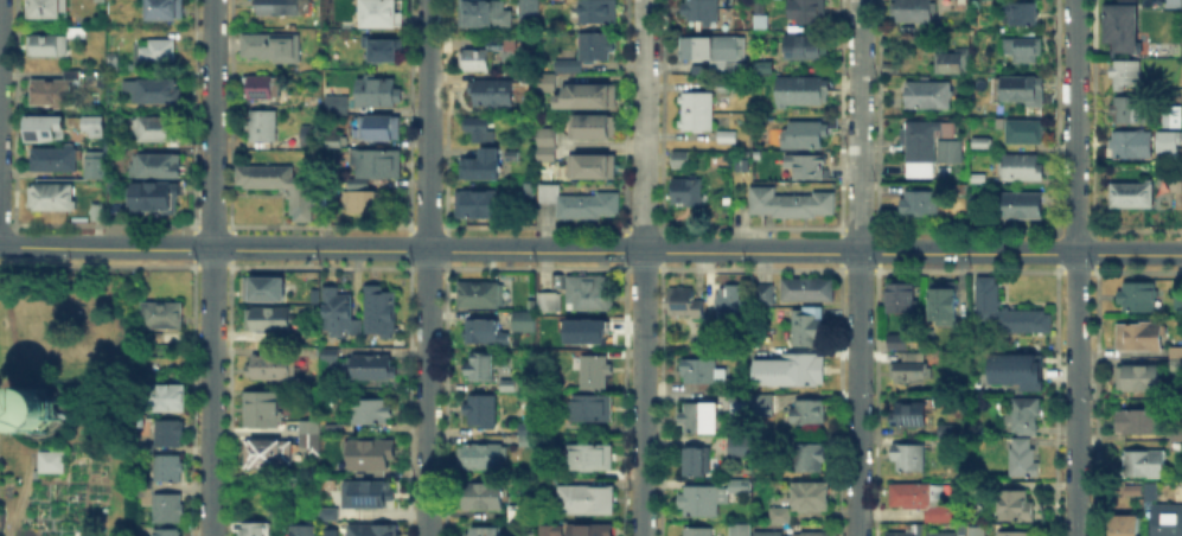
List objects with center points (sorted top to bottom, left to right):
building: (101, 1)
building: (760, 6)
building: (1173, 6)
building: (49, 7)
building: (282, 7)
building: (529, 8)
building: (166, 9)
building: (703, 11)
building: (915, 11)
building: (807, 12)
building: (384, 13)
building: (484, 13)
building: (600, 13)
building: (1023, 15)
building: (1125, 27)
building: (76, 32)
building: (46, 46)
building: (709, 46)
building: (270, 47)
building: (804, 47)
building: (384, 49)
building: (1021, 51)
building: (589, 52)
building: (154, 55)
building: (477, 62)
building: (114, 64)
building: (948, 64)
building: (889, 66)
building: (763, 69)
building: (1127, 74)
building: (539, 82)
building: (724, 83)
building: (263, 87)
building: (1021, 89)
building: (803, 90)
building: (153, 92)
building: (378, 92)
building: (493, 94)
building: (50, 95)
building: (592, 96)
building: (927, 97)
building: (332, 103)
building: (694, 109)
building: (1129, 109)
building: (1169, 121)
building: (89, 125)
building: (589, 125)
building: (263, 126)
road: (643, 126)
building: (41, 127)
road: (858, 127)
building: (383, 129)
building: (158, 130)
building: (478, 130)
building: (723, 132)
building: (1026, 134)
building: (543, 135)
building: (804, 135)
building: (311, 136)
building: (1173, 136)
building: (336, 143)
building: (1133, 145)
building: (927, 149)
building: (543, 152)
building: (50, 157)
building: (682, 160)
building: (91, 162)
building: (739, 162)
building: (155, 165)
building: (376, 165)
building: (1021, 166)
building: (481, 167)
building: (593, 167)
building: (807, 168)
building: (1177, 184)
building: (281, 187)
building: (961, 189)
building: (529, 190)
building: (690, 193)
building: (1132, 197)
building: (53, 198)
building: (154, 198)
building: (117, 199)
building: (787, 200)
building: (919, 200)
building: (364, 202)
building: (577, 202)
building: (477, 205)
building: (1021, 205)
building: (98, 212)
road: (320, 250)
road: (750, 253)
road: (1020, 254)
road: (426, 267)
road: (1075, 267)
road: (211, 268)
building: (804, 287)
building: (263, 289)
building: (762, 292)
building: (593, 294)
building: (483, 296)
building: (550, 296)
building: (901, 296)
building: (1138, 296)
building: (733, 302)
building: (944, 302)
building: (684, 304)
building: (1178, 308)
building: (338, 311)
building: (381, 311)
building: (1008, 311)
building: (166, 314)
building: (268, 321)
building: (524, 321)
building: (810, 326)
building: (583, 328)
building: (485, 333)
building: (1139, 338)
building: (899, 343)
building: (1176, 352)
building: (330, 355)
building: (1014, 366)
building: (1176, 366)
building: (274, 368)
building: (372, 369)
building: (481, 369)
building: (912, 369)
building: (804, 370)
building: (701, 372)
building: (593, 374)
building: (1138, 379)
building: (509, 385)
road: (643, 394)
road: (857, 395)
building: (165, 398)
park: (70, 402)
building: (763, 403)
building: (739, 406)
building: (38, 408)
building: (592, 408)
building: (263, 410)
building: (483, 410)
building: (810, 411)
building: (372, 413)
water tower: (36, 416)
building: (911, 416)
building: (1027, 416)
building: (702, 420)
building: (1141, 422)
building: (309, 428)
building: (529, 429)
building: (330, 430)
building: (1177, 433)
building: (171, 435)
building: (311, 435)
building: (945, 435)
building: (528, 440)
building: (740, 444)
building: (1176, 446)
building: (268, 455)
building: (909, 455)
building: (370, 457)
building: (483, 457)
building: (589, 458)
building: (809, 459)
building: (1023, 459)
building: (53, 462)
building: (1144, 464)
building: (698, 465)
building: (168, 470)
building: (36, 473)
building: (739, 484)
building: (1132, 491)
building: (1151, 491)
building: (372, 496)
building: (483, 497)
building: (812, 498)
building: (698, 499)
building: (587, 500)
building: (921, 500)
building: (1016, 506)
building: (167, 509)
building: (324, 510)
building: (519, 515)
building: (780, 516)
building: (1167, 521)
building: (1125, 525)
building: (309, 529)
building: (547, 529)
building: (257, 530)
building: (372, 531)
building: (592, 531)
building: (750, 531)
building: (911, 531)
building: (487, 532)
building: (520, 532)
building: (977, 532)
building: (167, 534)
building: (697, 534)
building: (1014, 534)
building: (812, 535)
building: (943, 535)

